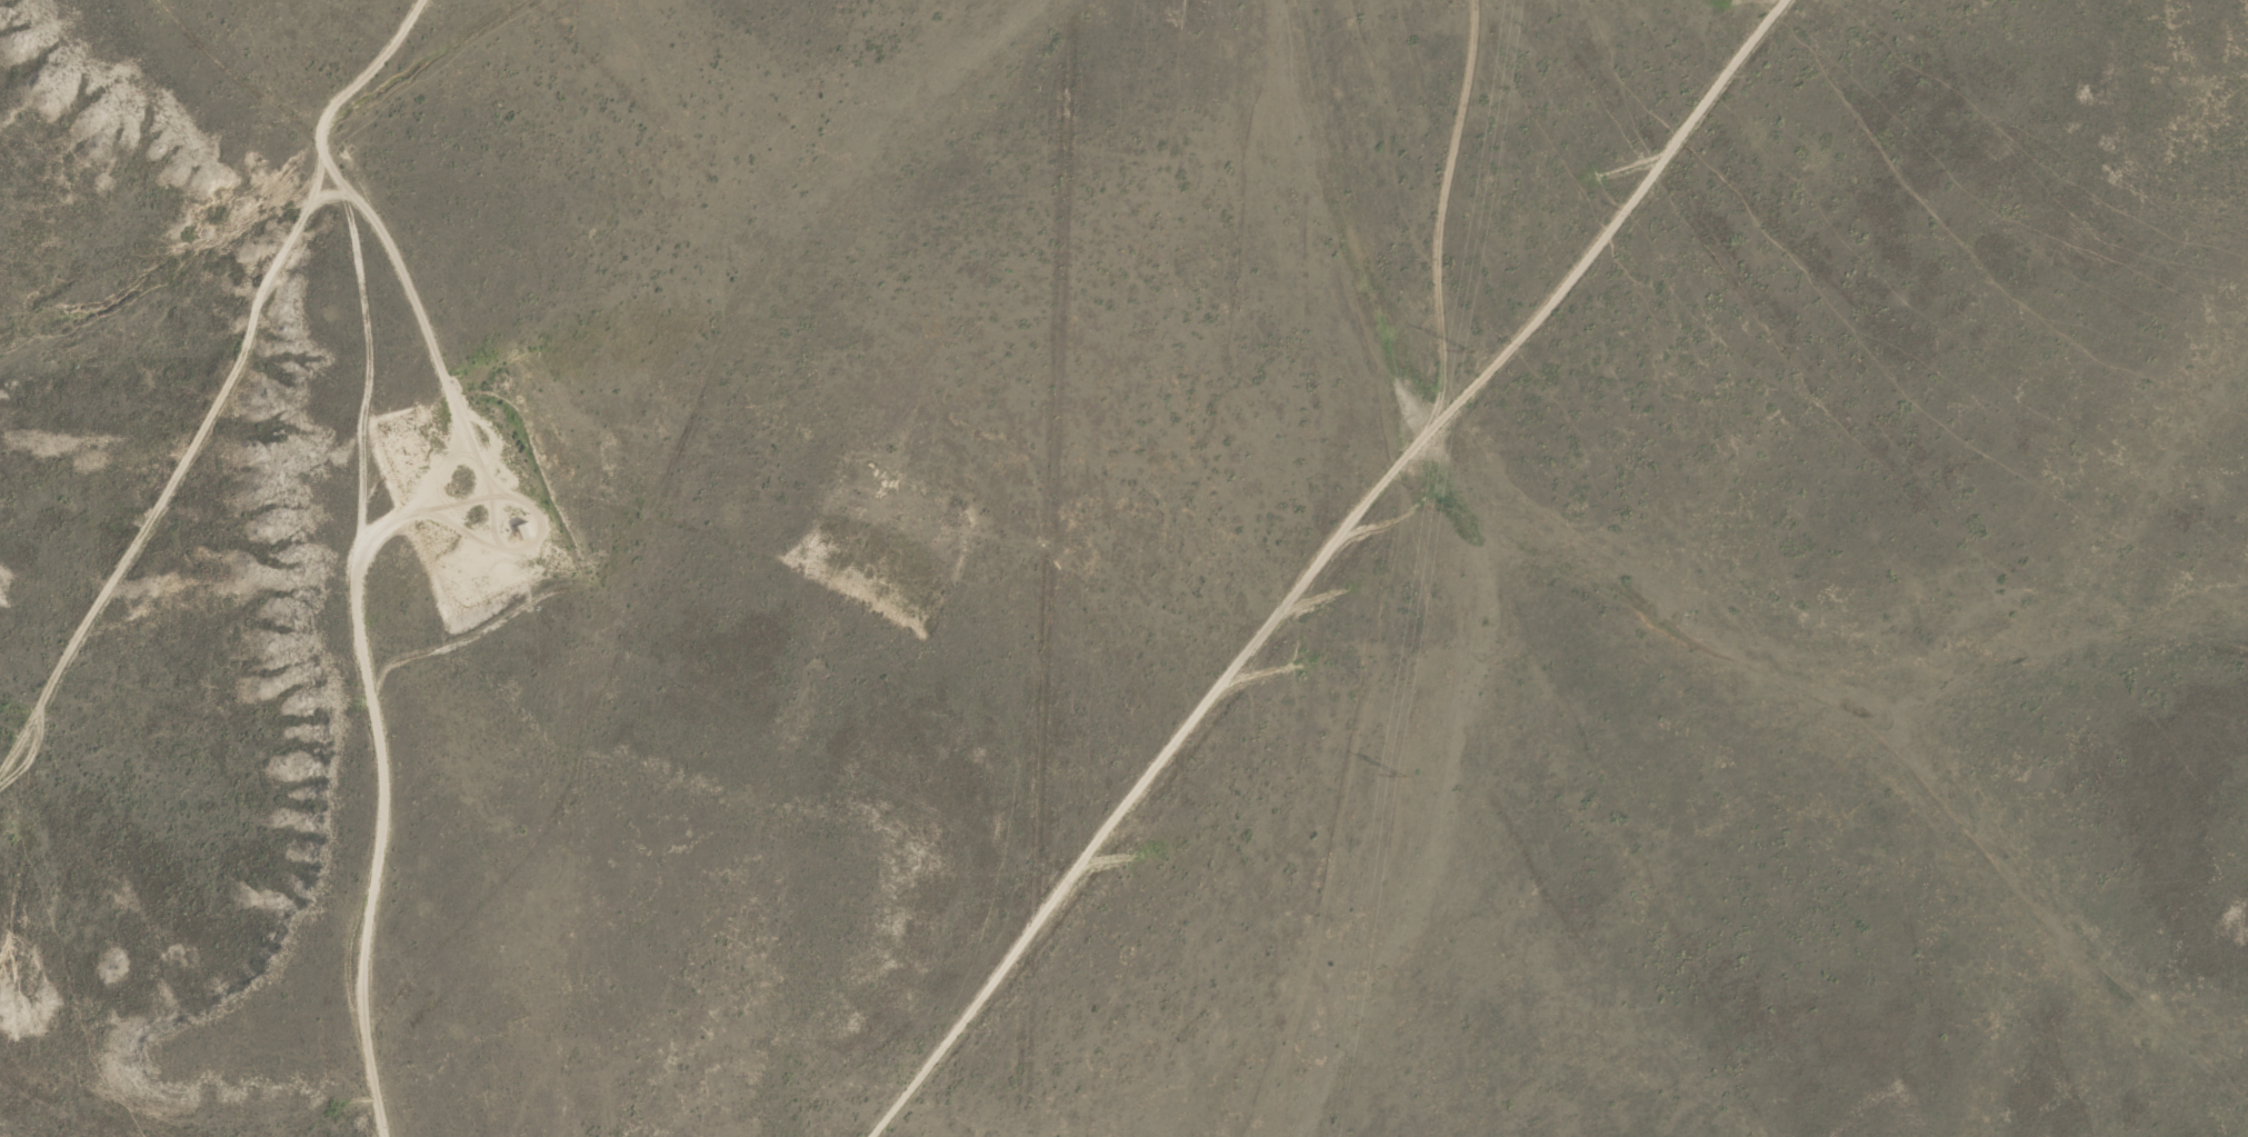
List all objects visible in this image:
power tower: (1467, 352)
road: (1305, 568)
power tower: (1399, 775)

